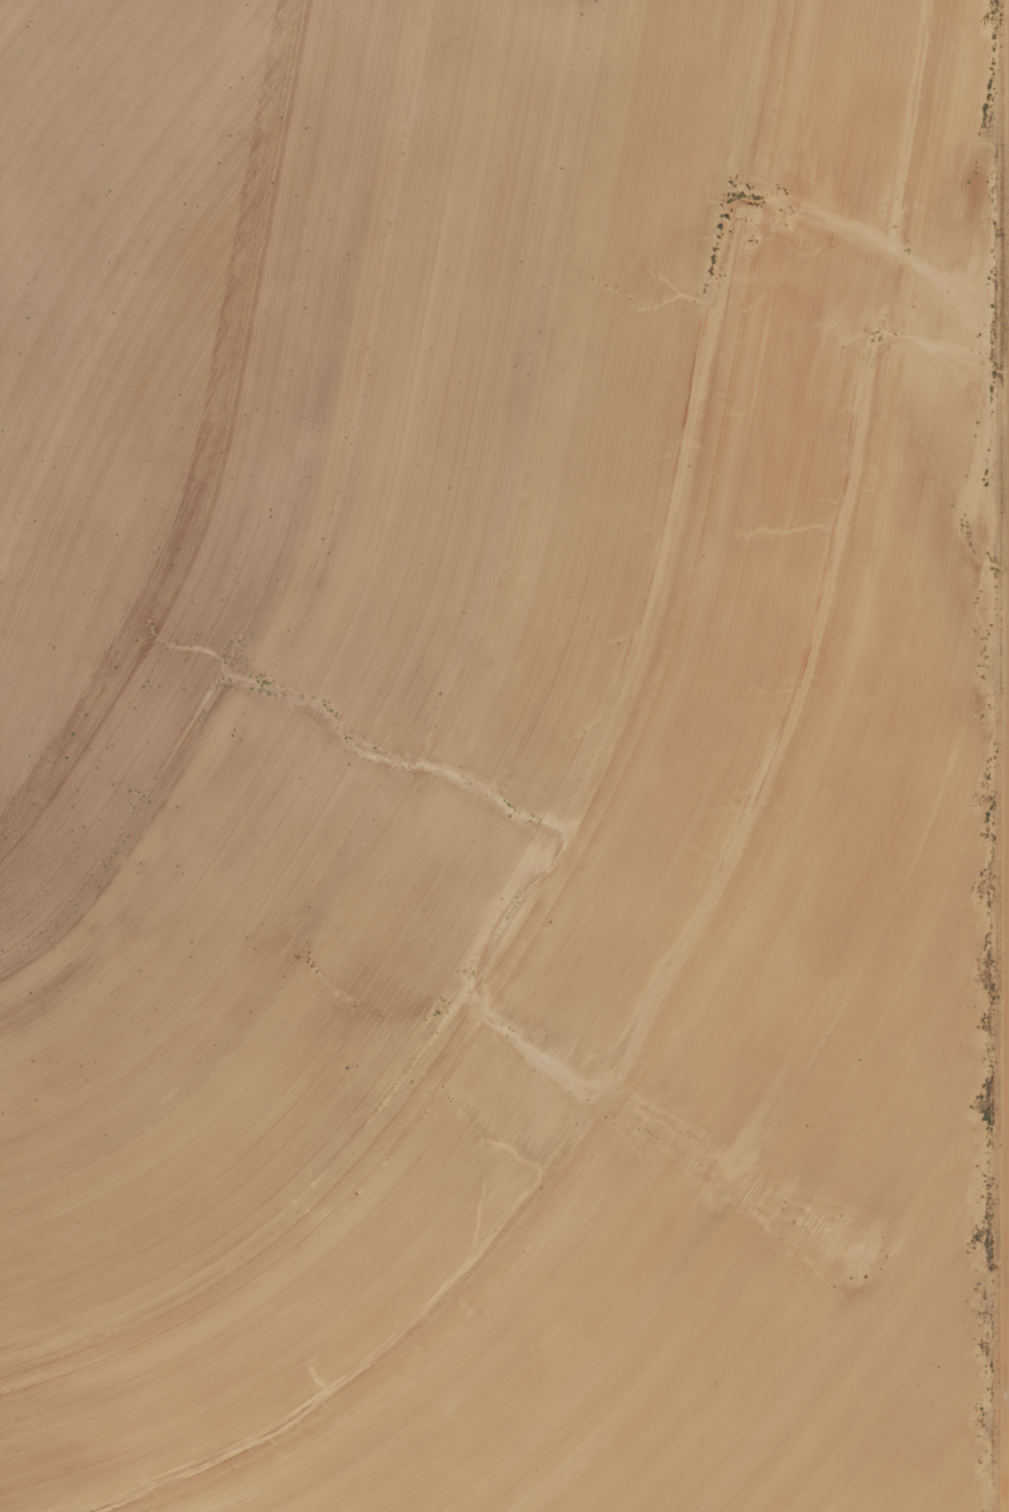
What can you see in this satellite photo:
road: (1006, 1063)

